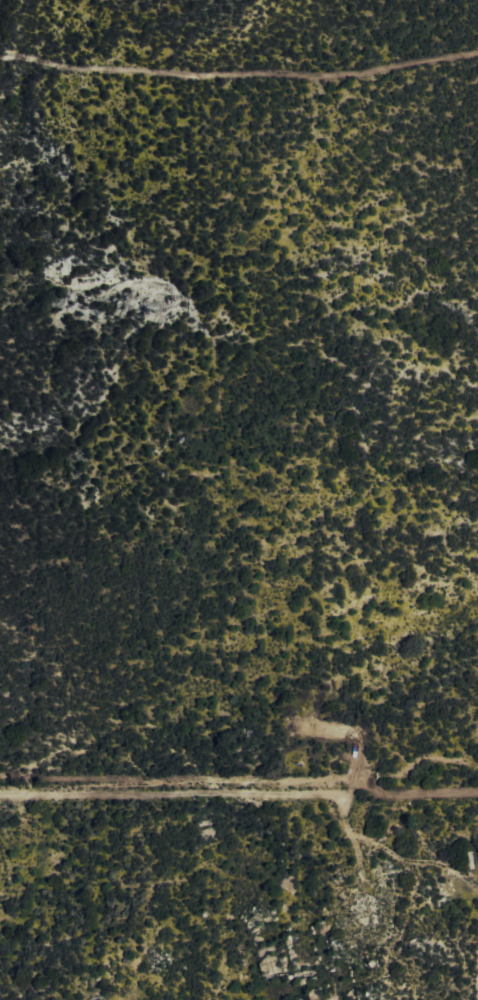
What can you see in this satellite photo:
road: (172, 785)

